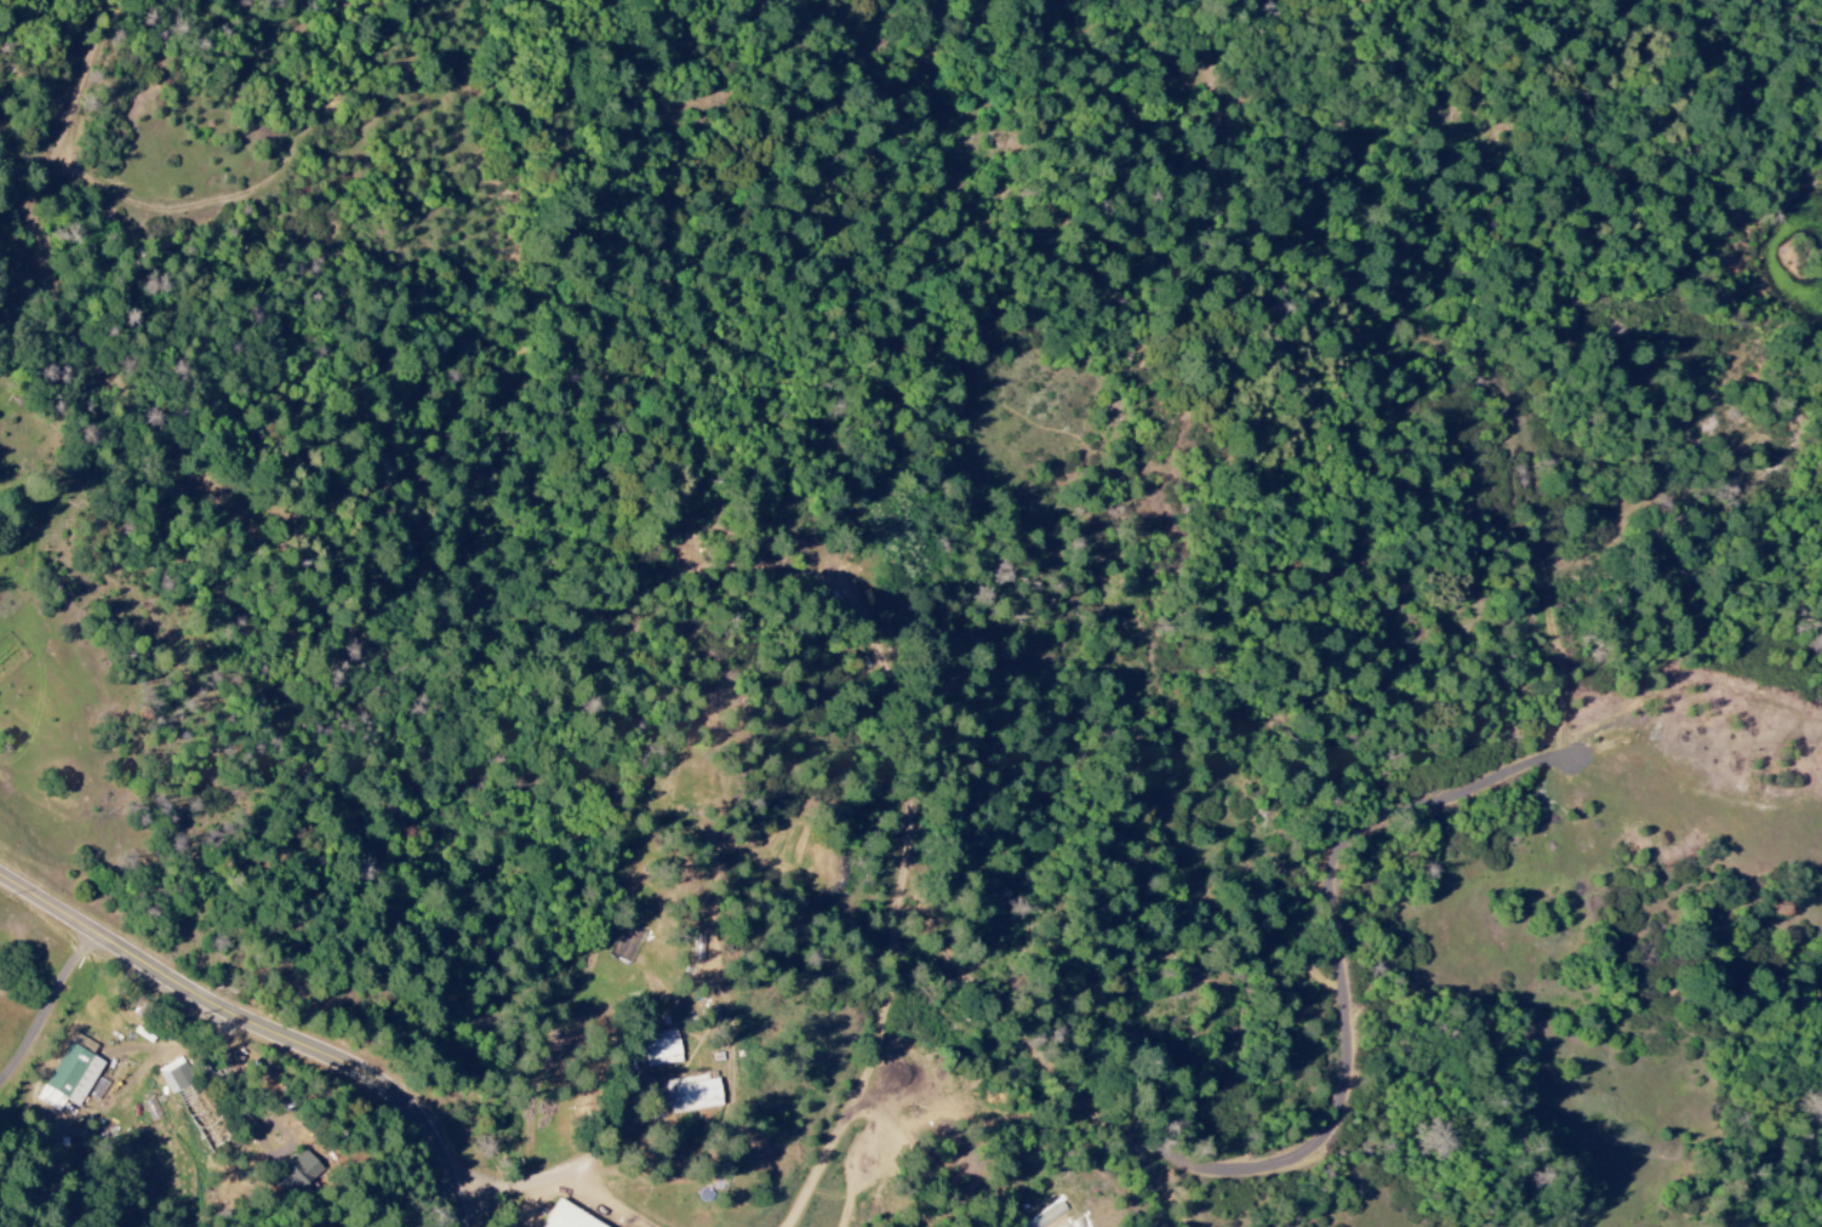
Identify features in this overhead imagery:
road: (601, 603)
road: (267, 1023)
building: (661, 1049)
building: (173, 1075)
building: (69, 1078)
building: (690, 1095)
road: (584, 1166)
building: (302, 1170)
building: (569, 1217)

